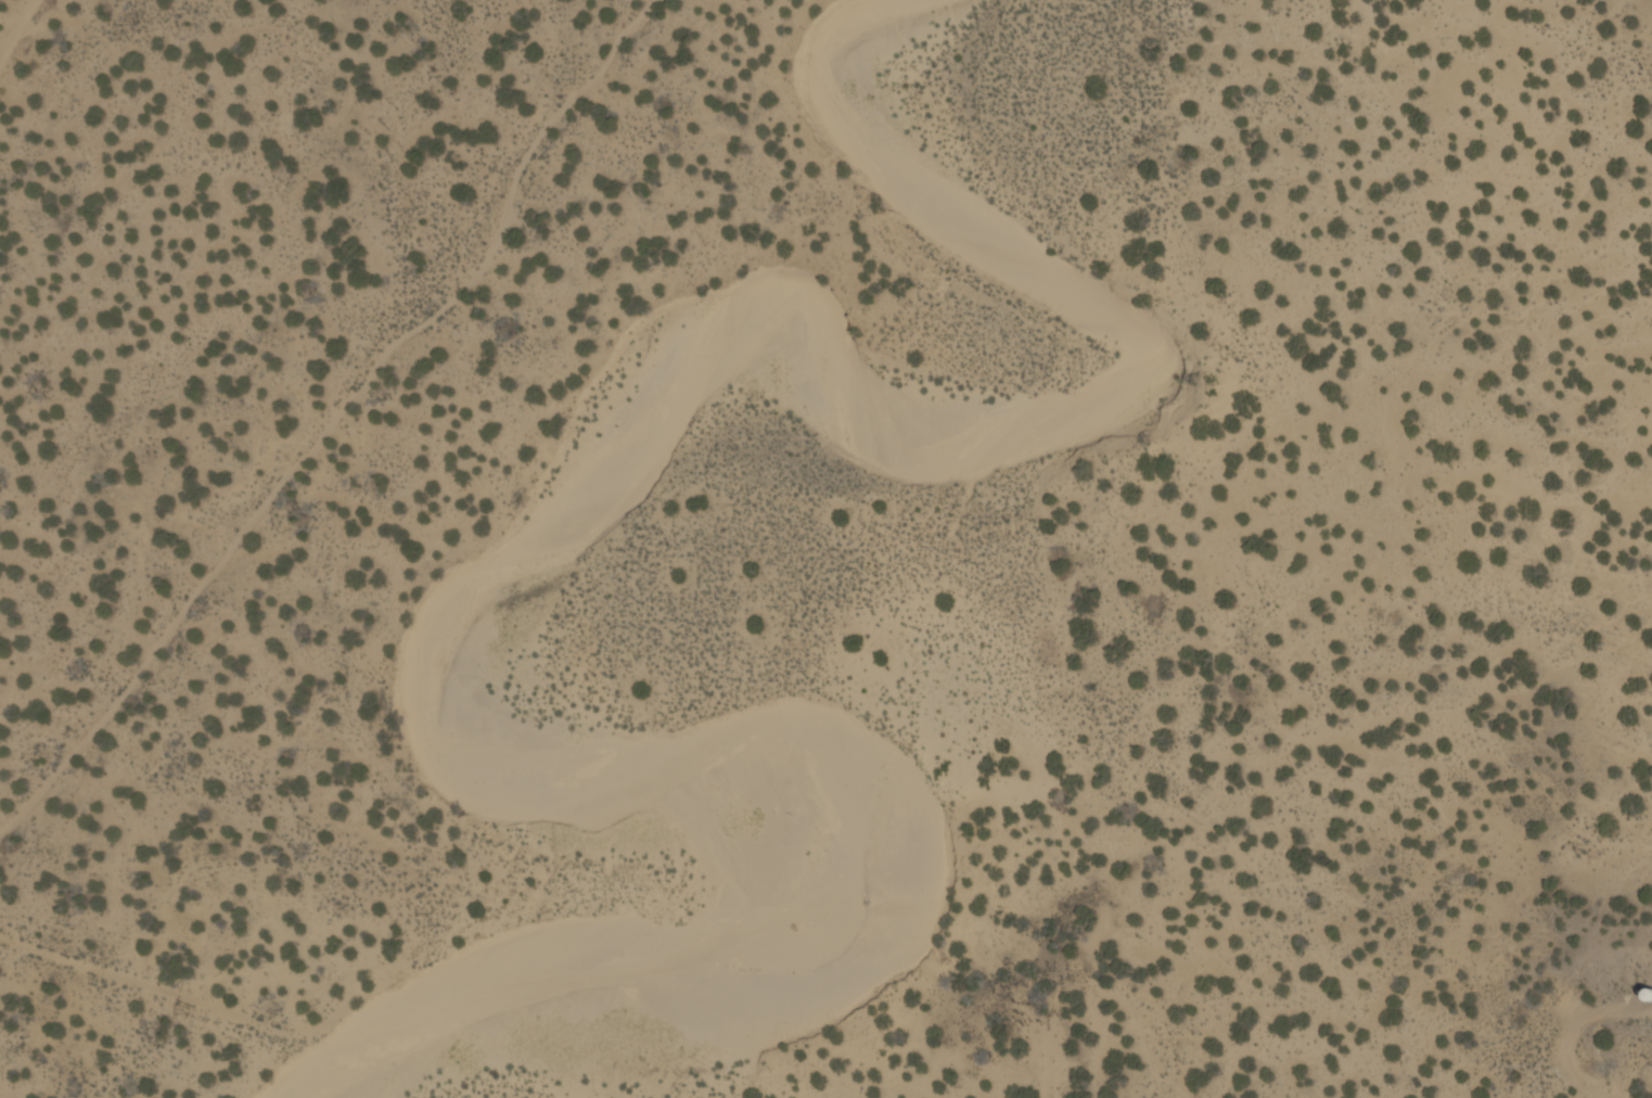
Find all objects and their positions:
road: (39, 42)
power tower: (190, 1010)

